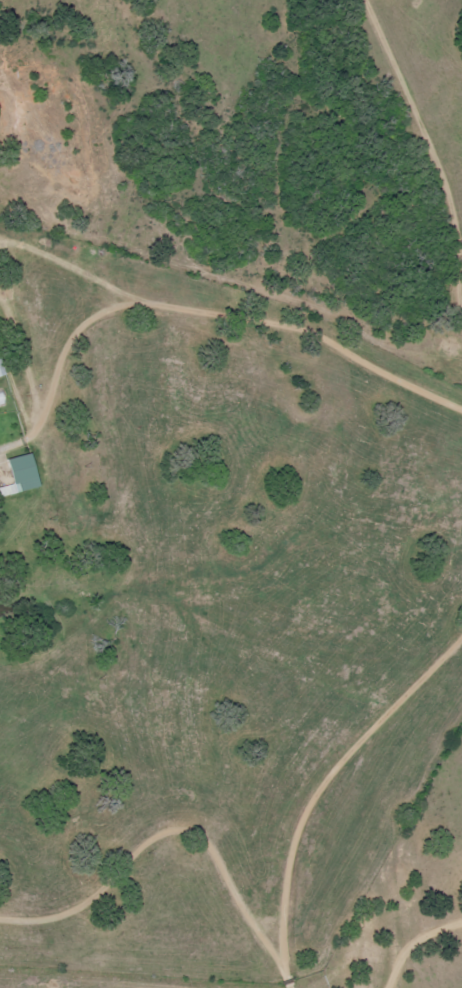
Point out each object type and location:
building: (1, 370)
building: (1, 398)
building: (20, 475)
road: (318, 811)

